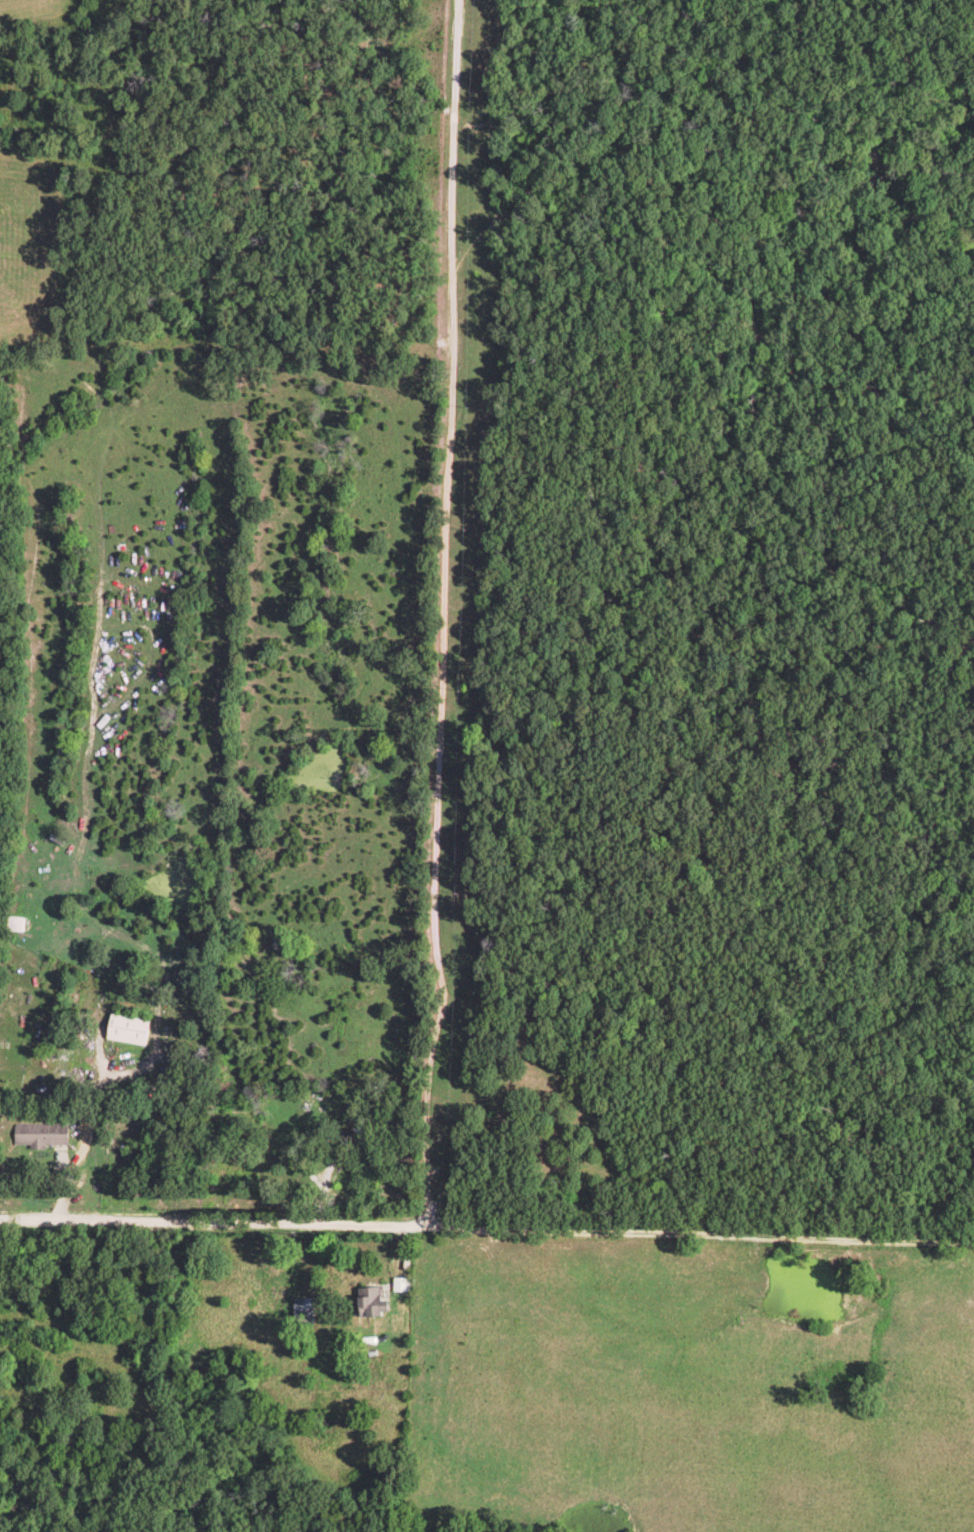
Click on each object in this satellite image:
road: (443, 615)
building: (128, 1029)
building: (41, 1135)
road: (487, 1226)
building: (373, 1302)
building: (380, 1325)

